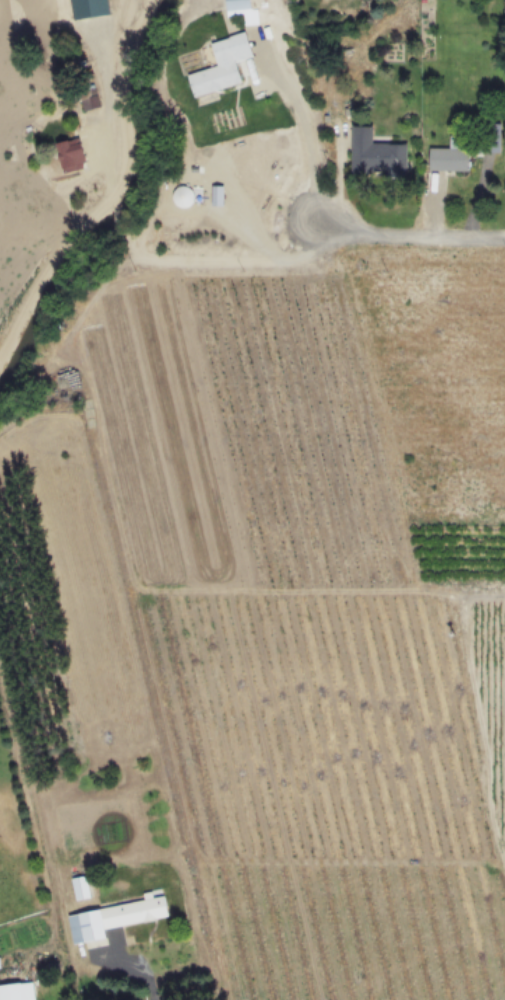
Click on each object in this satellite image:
building: (236, 5)
building: (65, 11)
building: (220, 64)
building: (490, 137)
road: (308, 145)
building: (374, 153)
building: (70, 154)
building: (450, 154)
road: (122, 196)
road: (292, 264)
building: (80, 887)
building: (111, 918)
road: (134, 973)
building: (16, 991)

